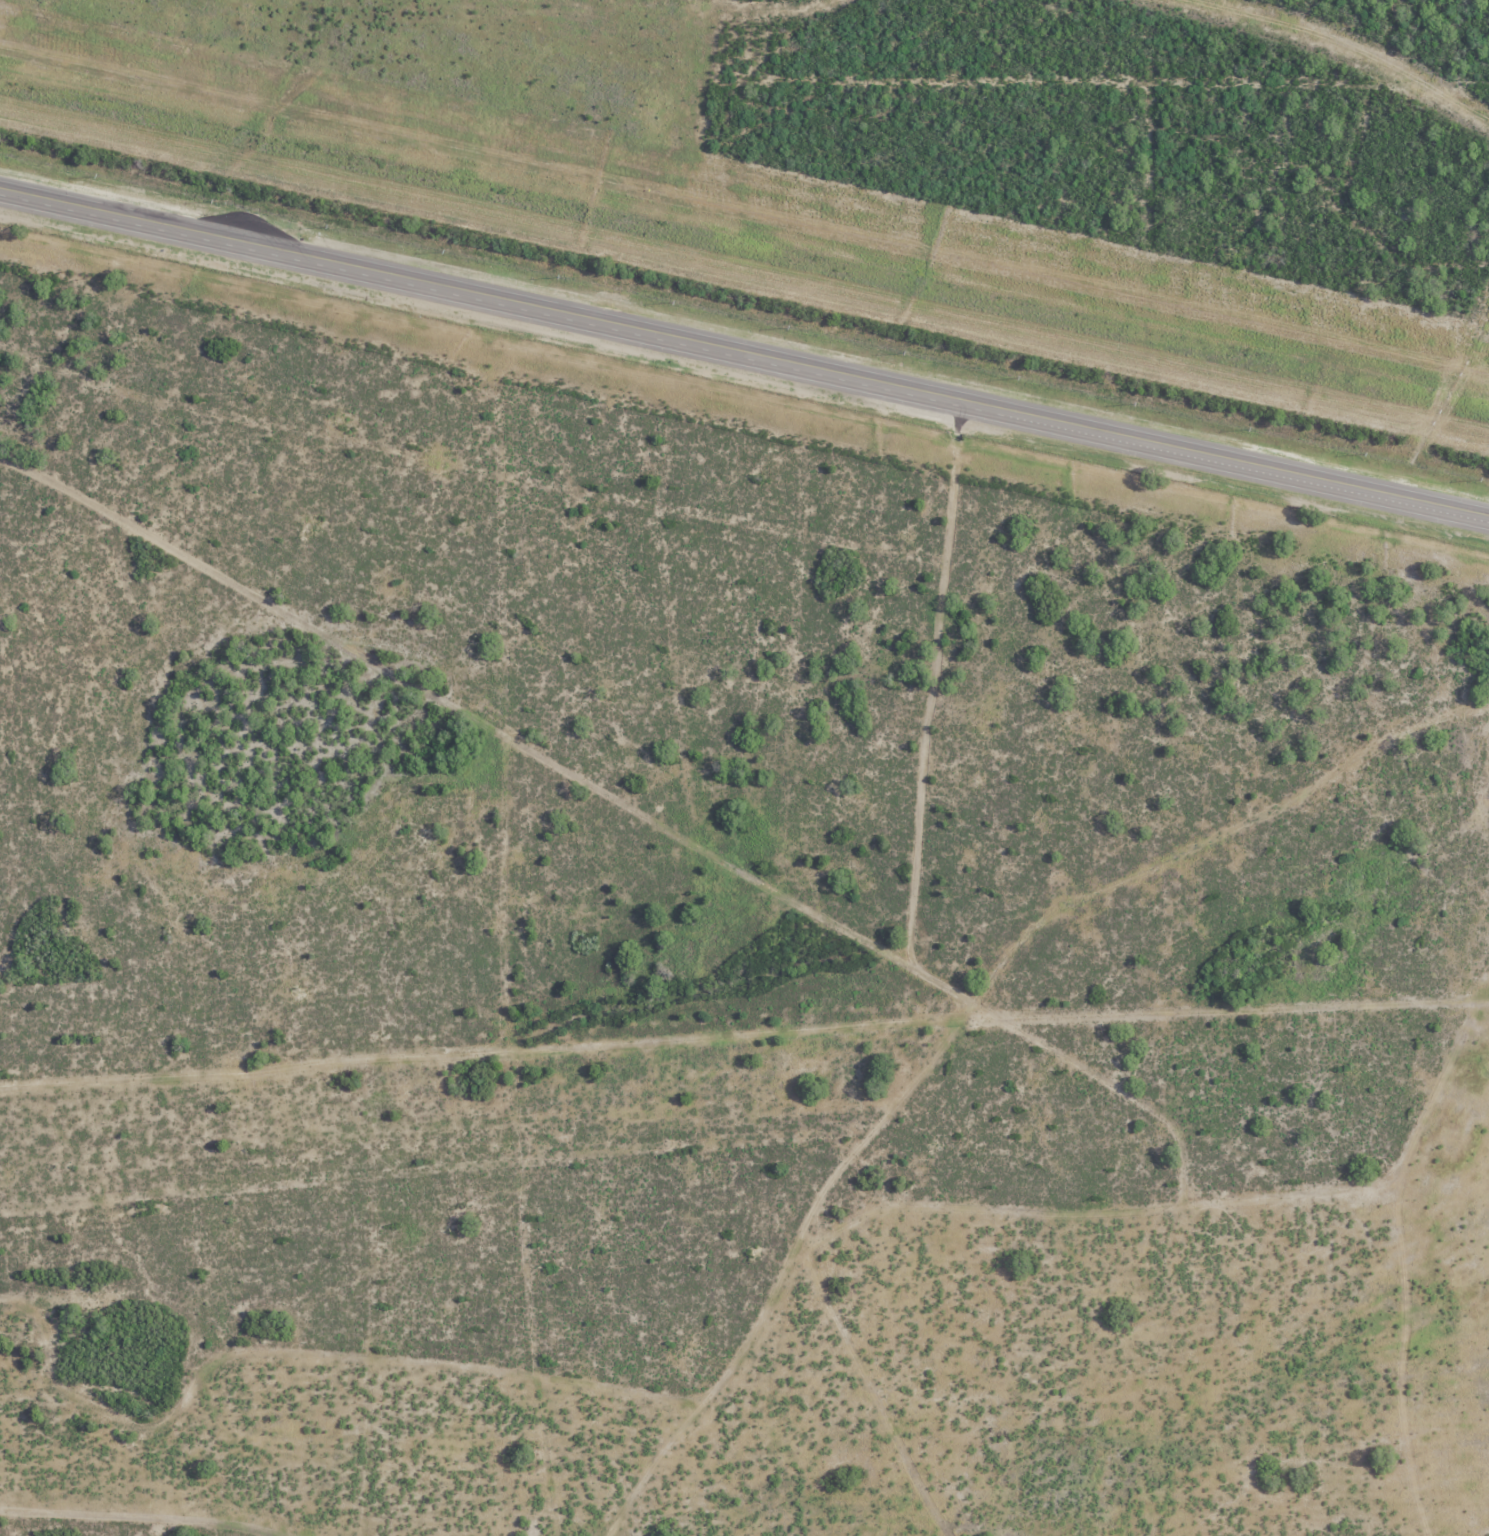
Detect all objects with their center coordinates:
road: (1340, 62)
road: (744, 353)

